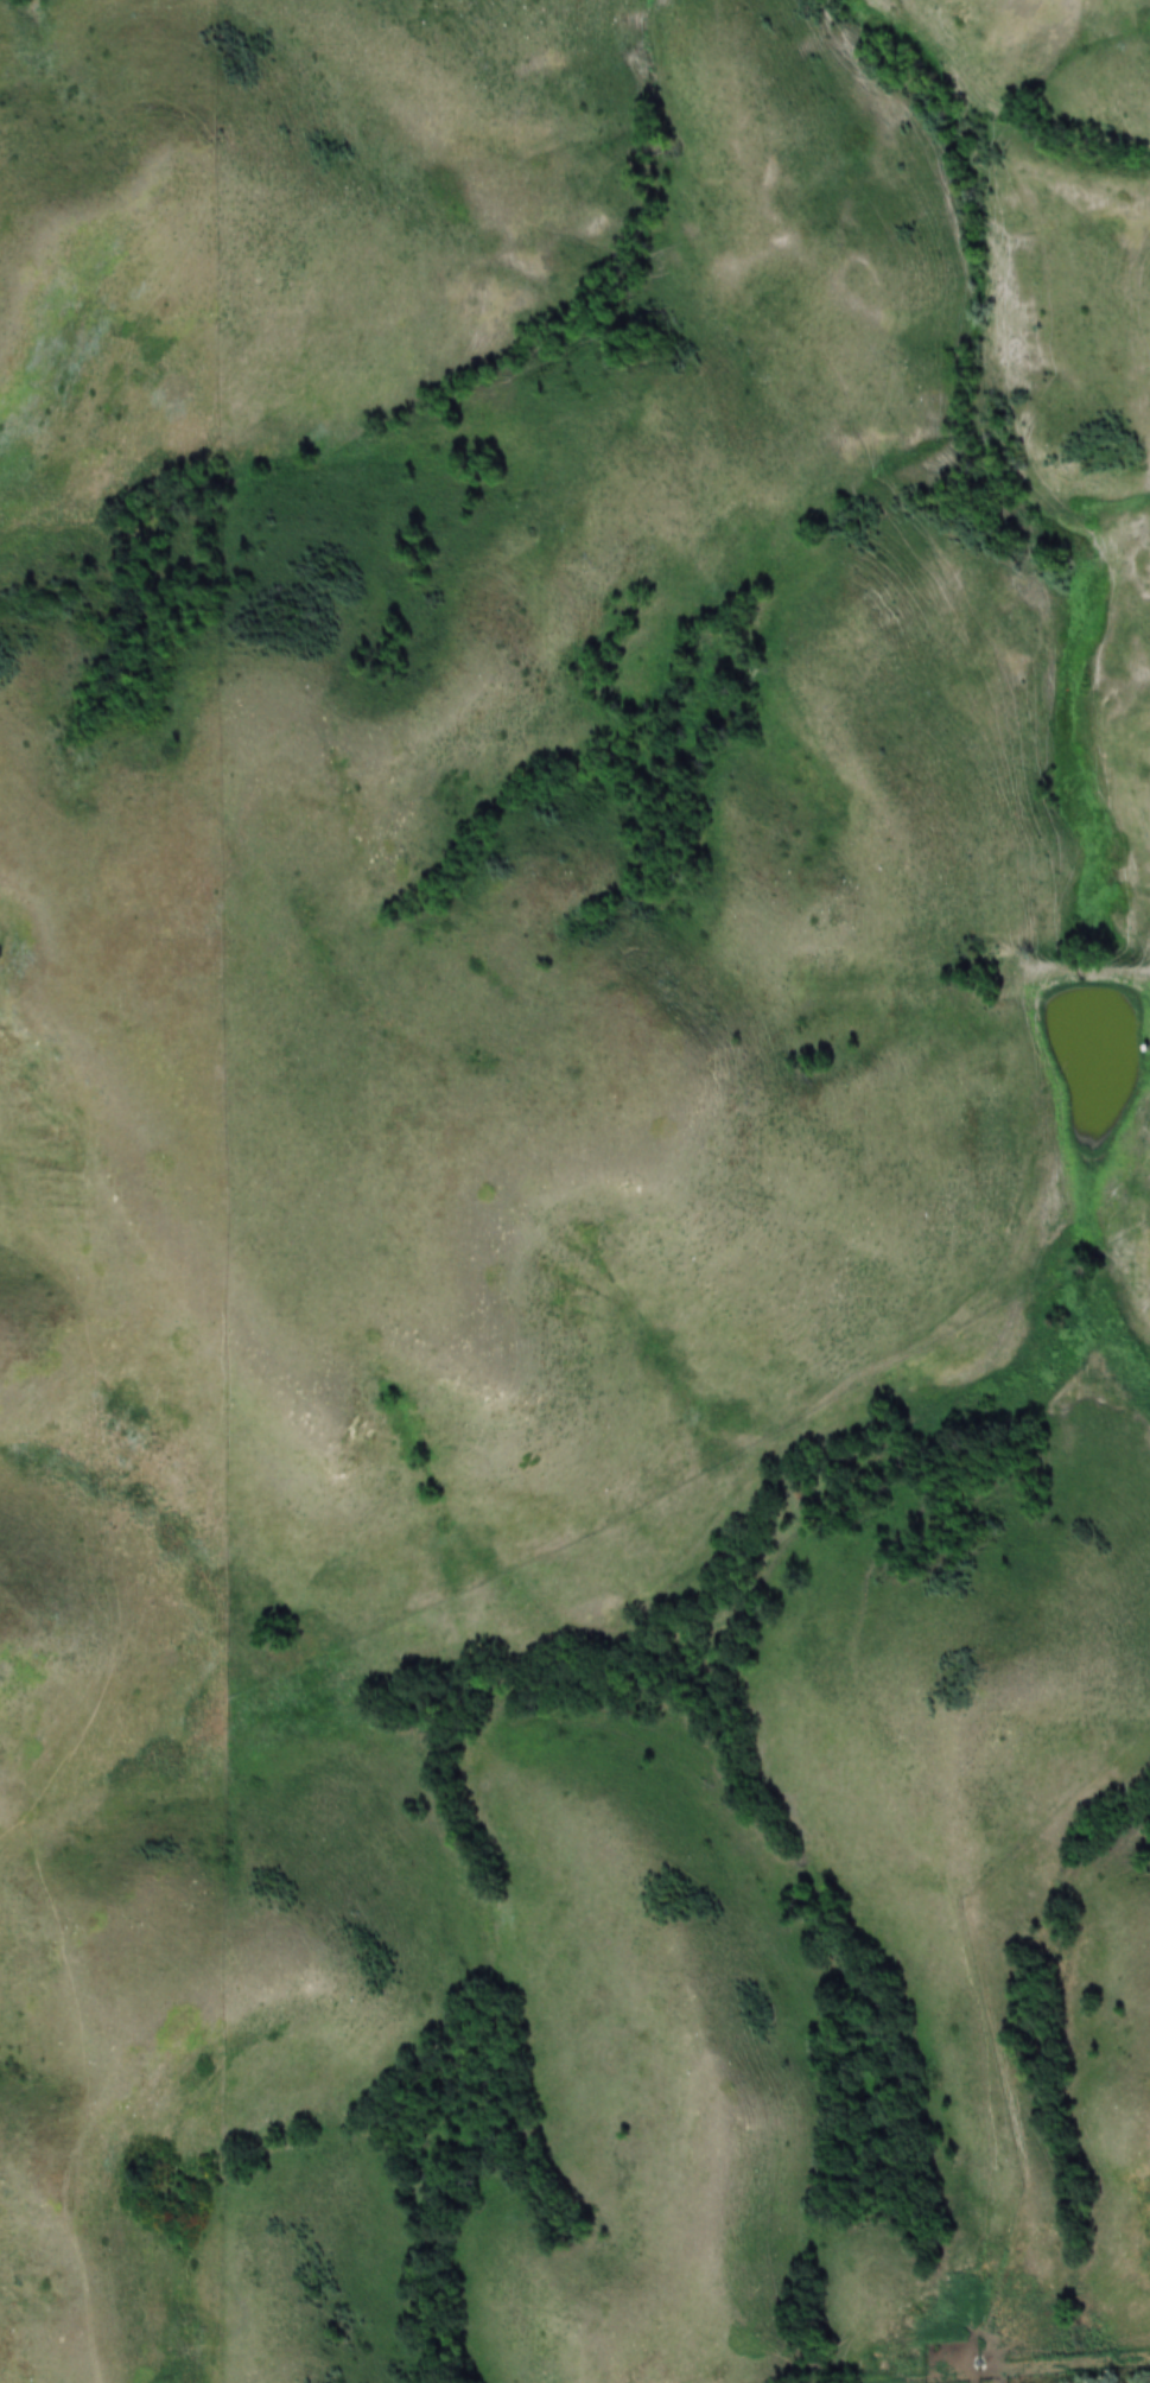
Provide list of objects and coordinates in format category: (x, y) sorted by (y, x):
road: (1072, 2374)

